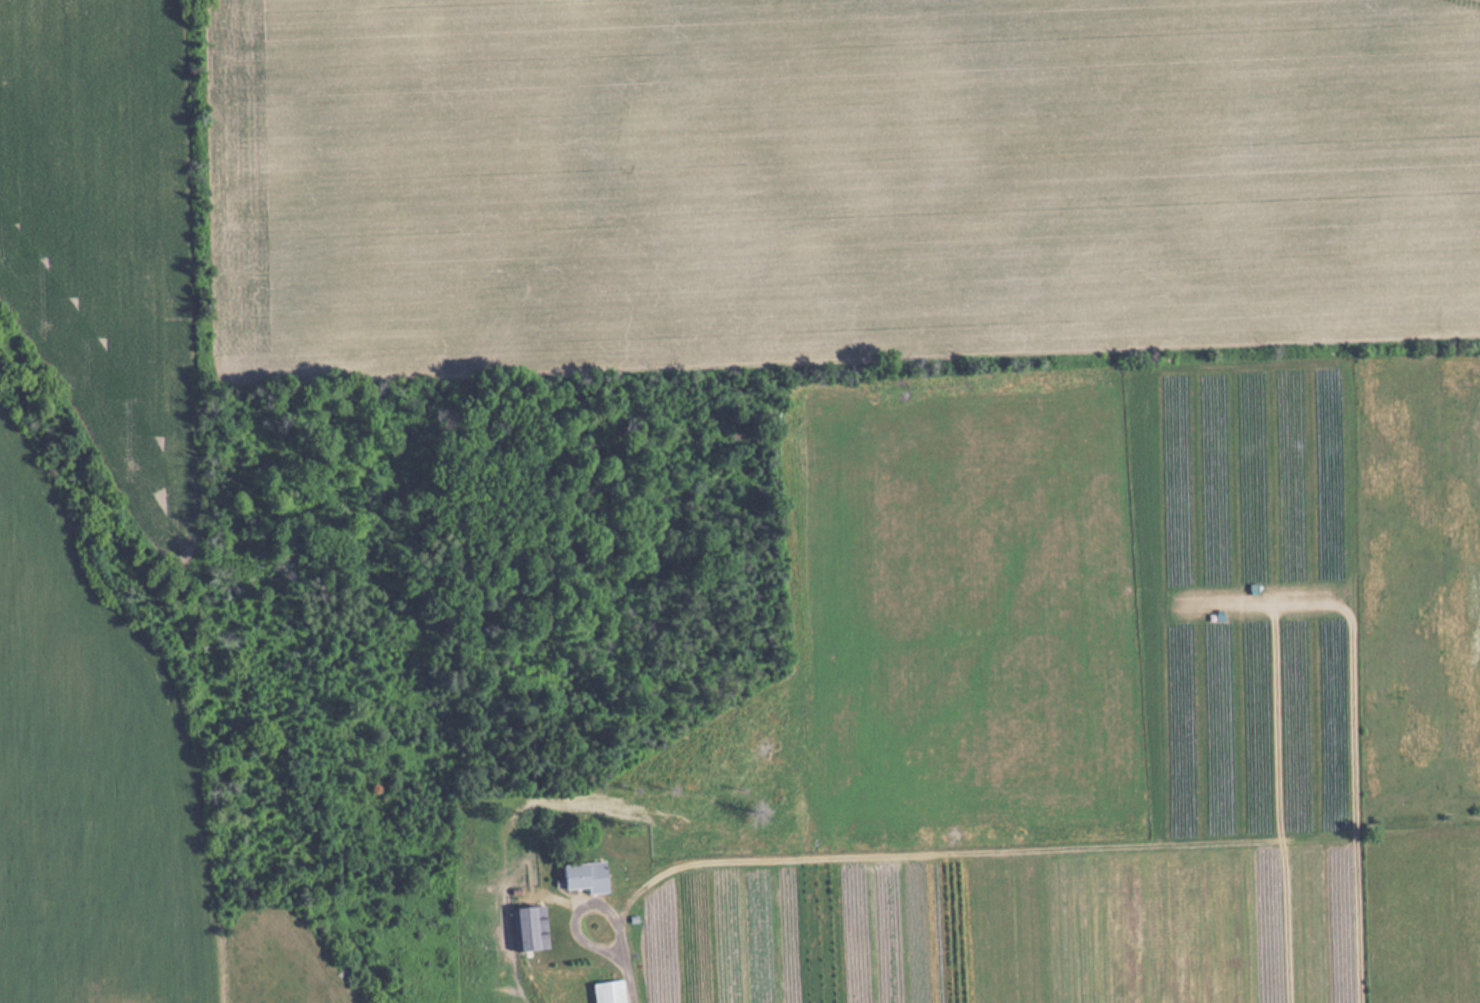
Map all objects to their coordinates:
building: (585, 879)
building: (531, 929)

